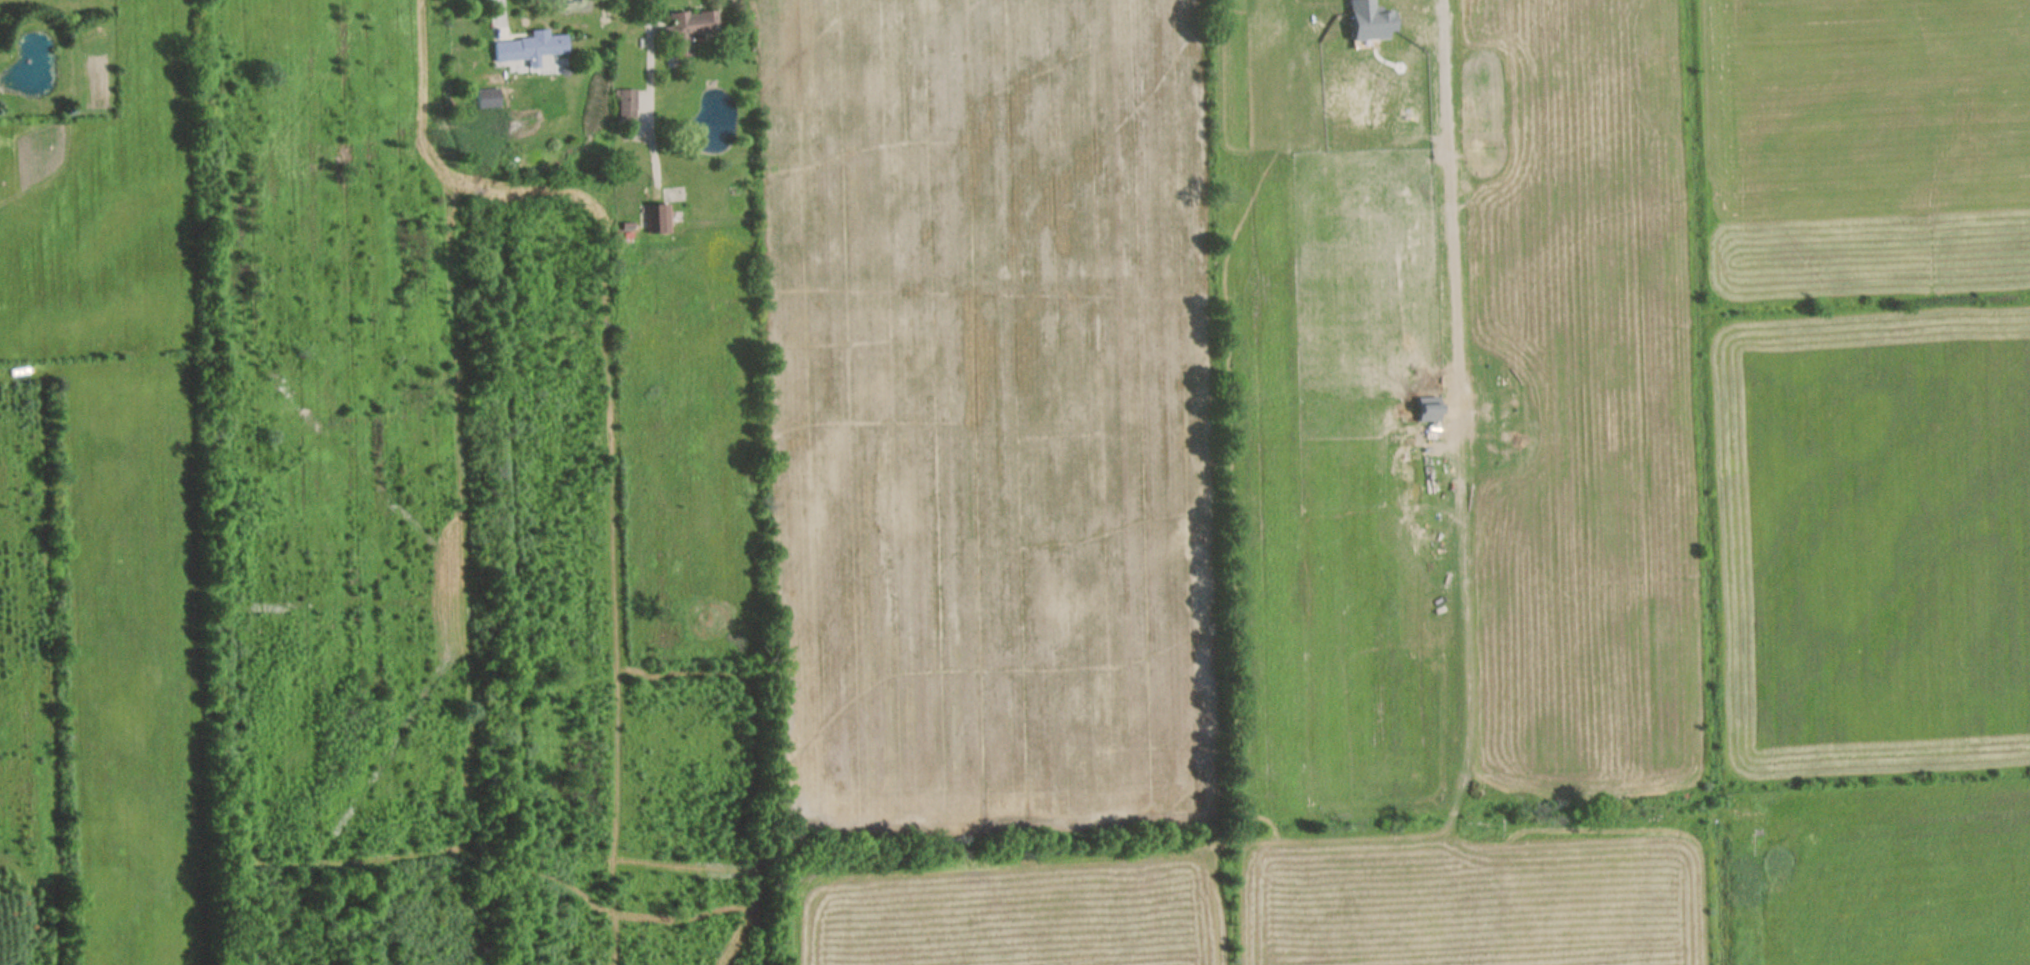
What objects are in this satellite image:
road: (498, 17)
building: (687, 30)
building: (527, 48)
road: (647, 97)
building: (484, 98)
building: (623, 105)
road: (1424, 210)
building: (656, 218)

